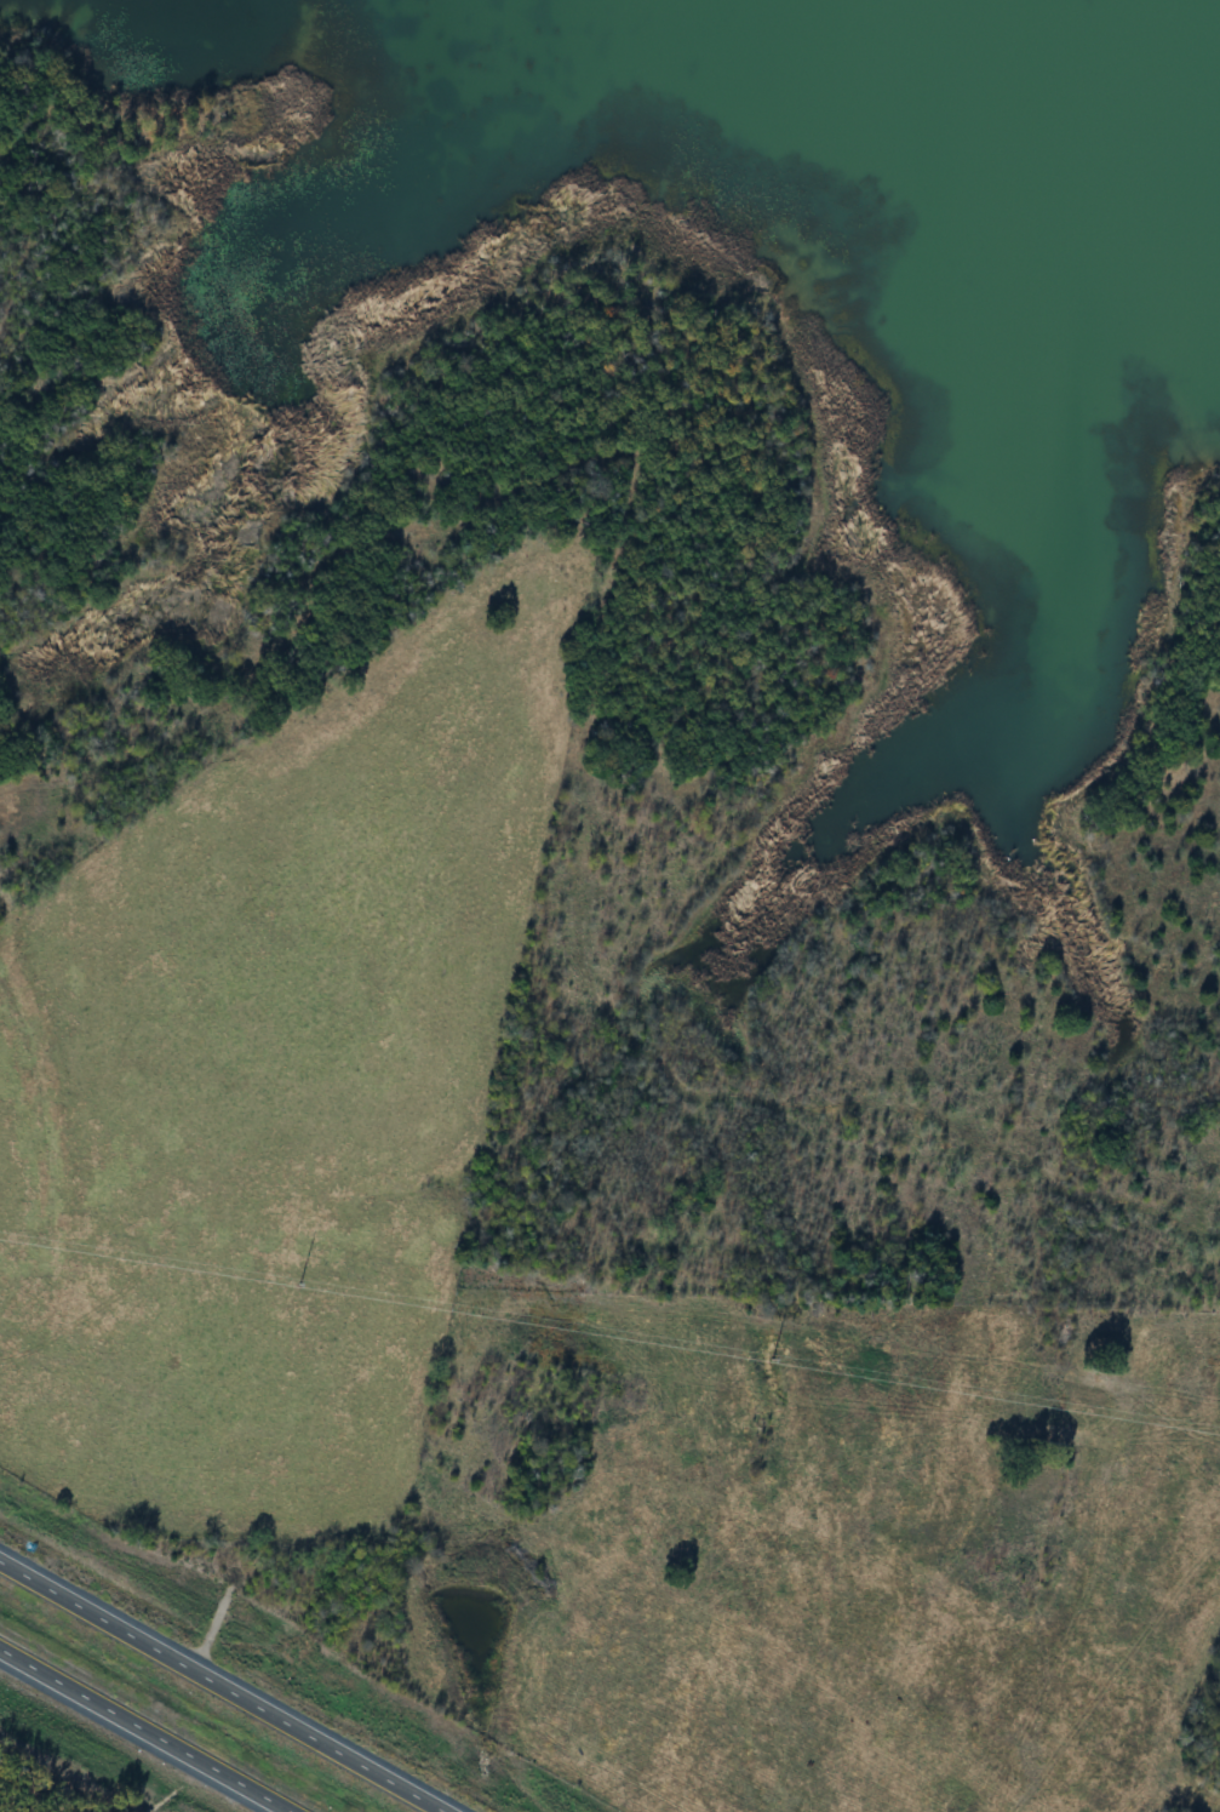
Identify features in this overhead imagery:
power tower: (303, 1282)
power tower: (773, 1360)
road: (222, 1686)
road: (143, 1731)

